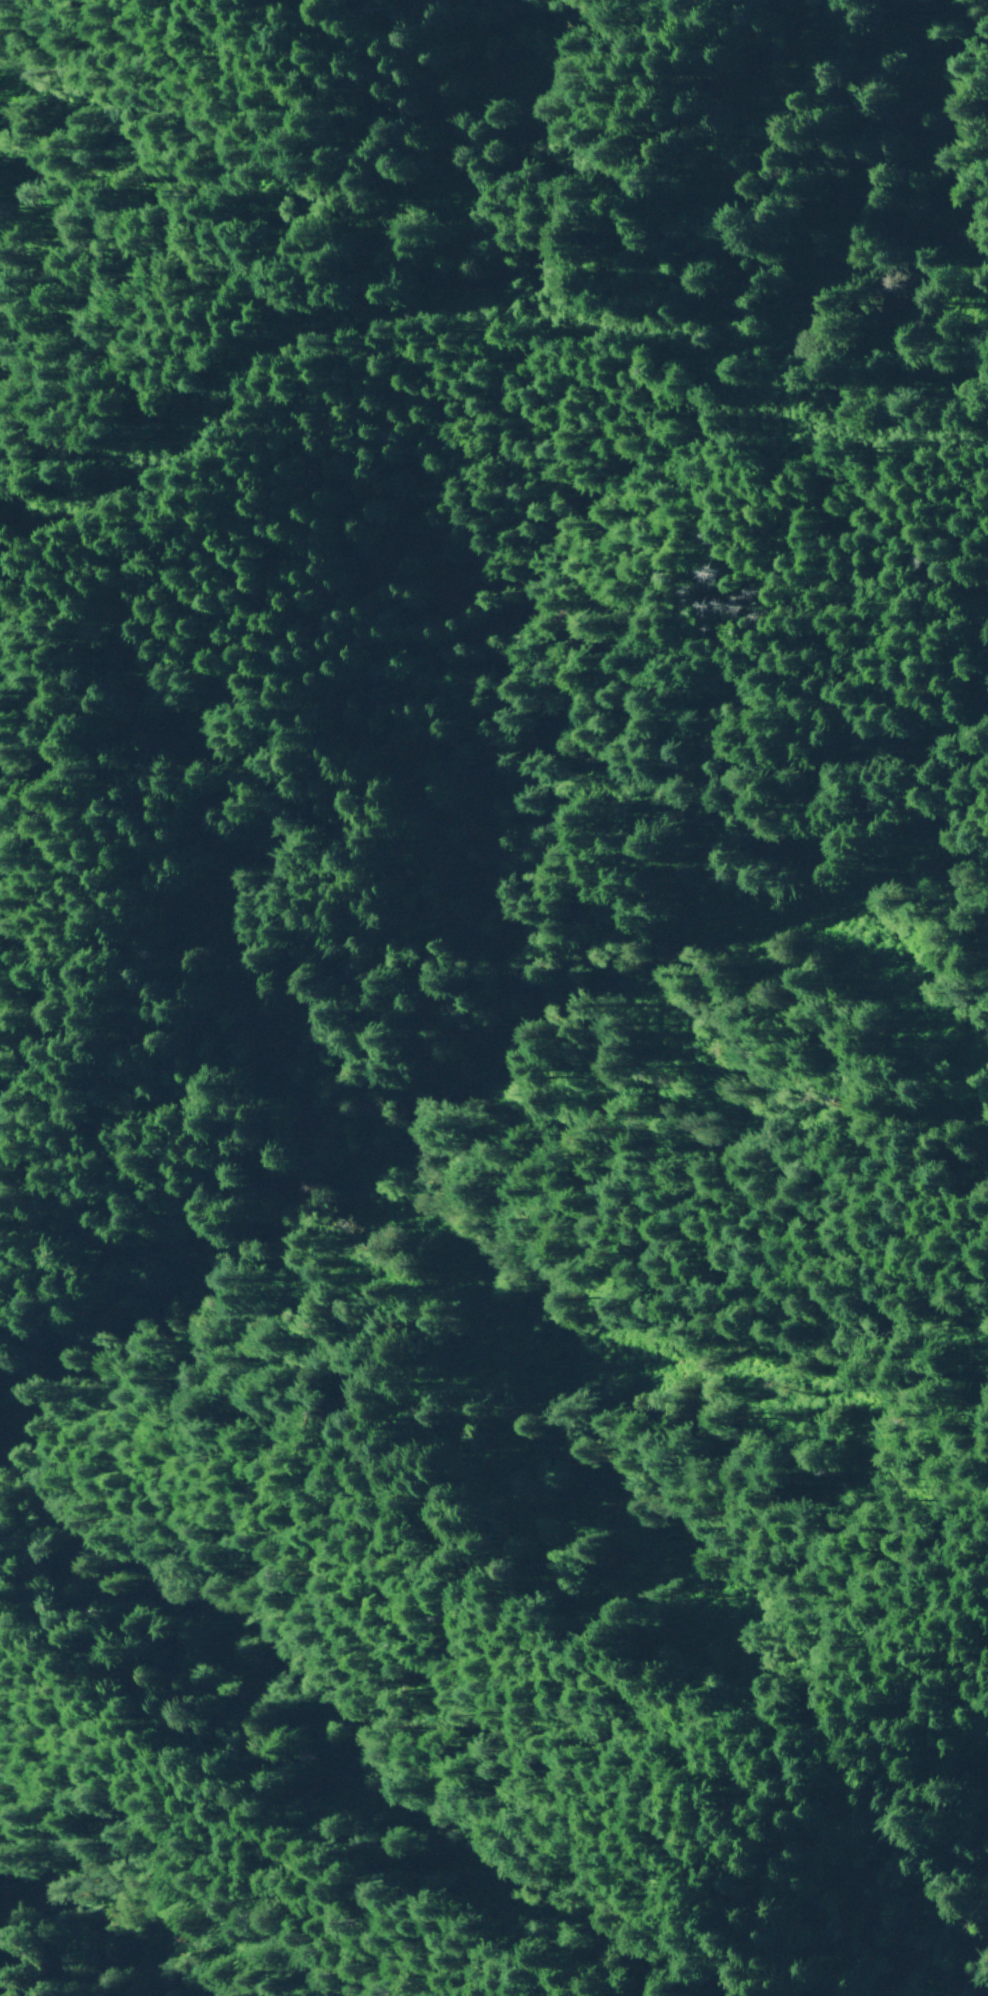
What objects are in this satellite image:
road: (480, 303)

